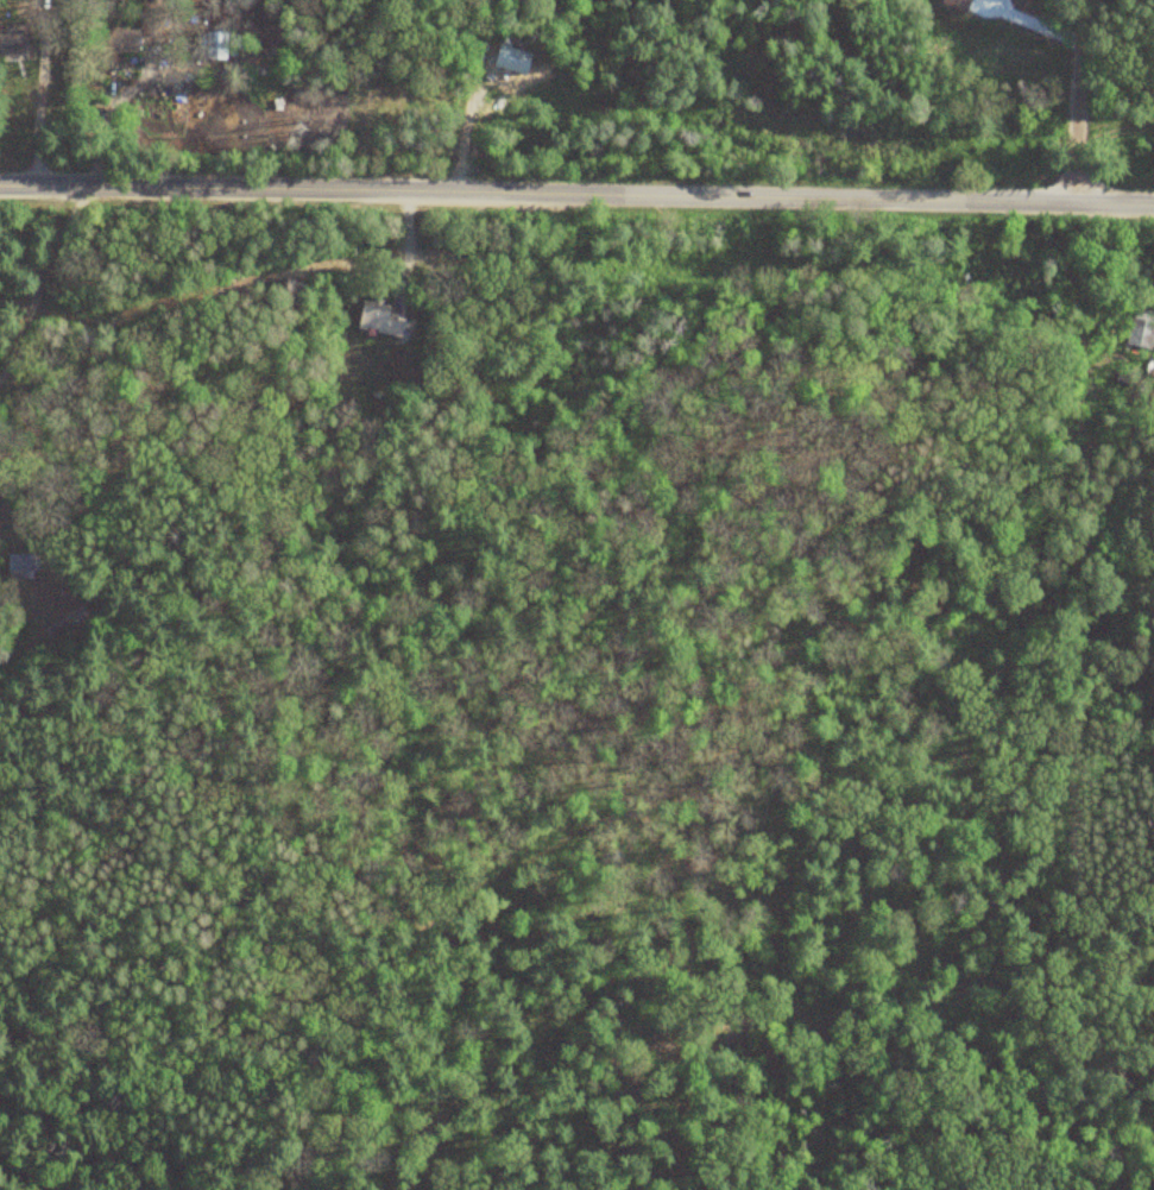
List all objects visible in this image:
building: (11, 44)
building: (115, 45)
road: (1073, 101)
road: (38, 112)
road: (576, 195)
building: (374, 320)
building: (21, 563)

